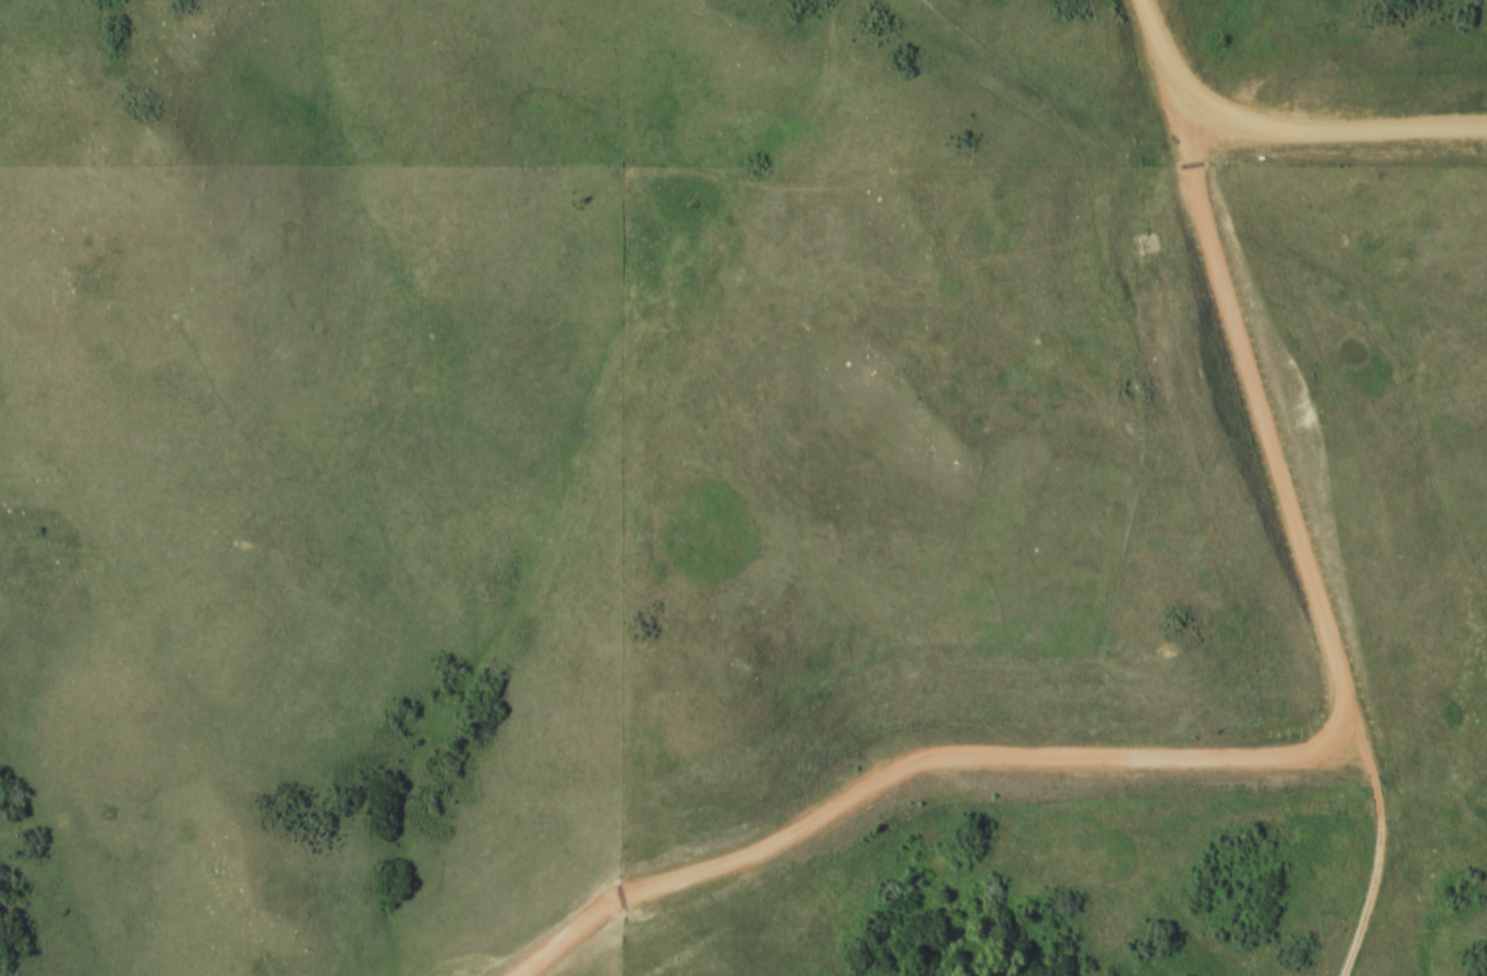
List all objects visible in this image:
road: (1334, 147)
road: (1173, 182)
road: (1247, 363)
road: (907, 762)
road: (1378, 852)

